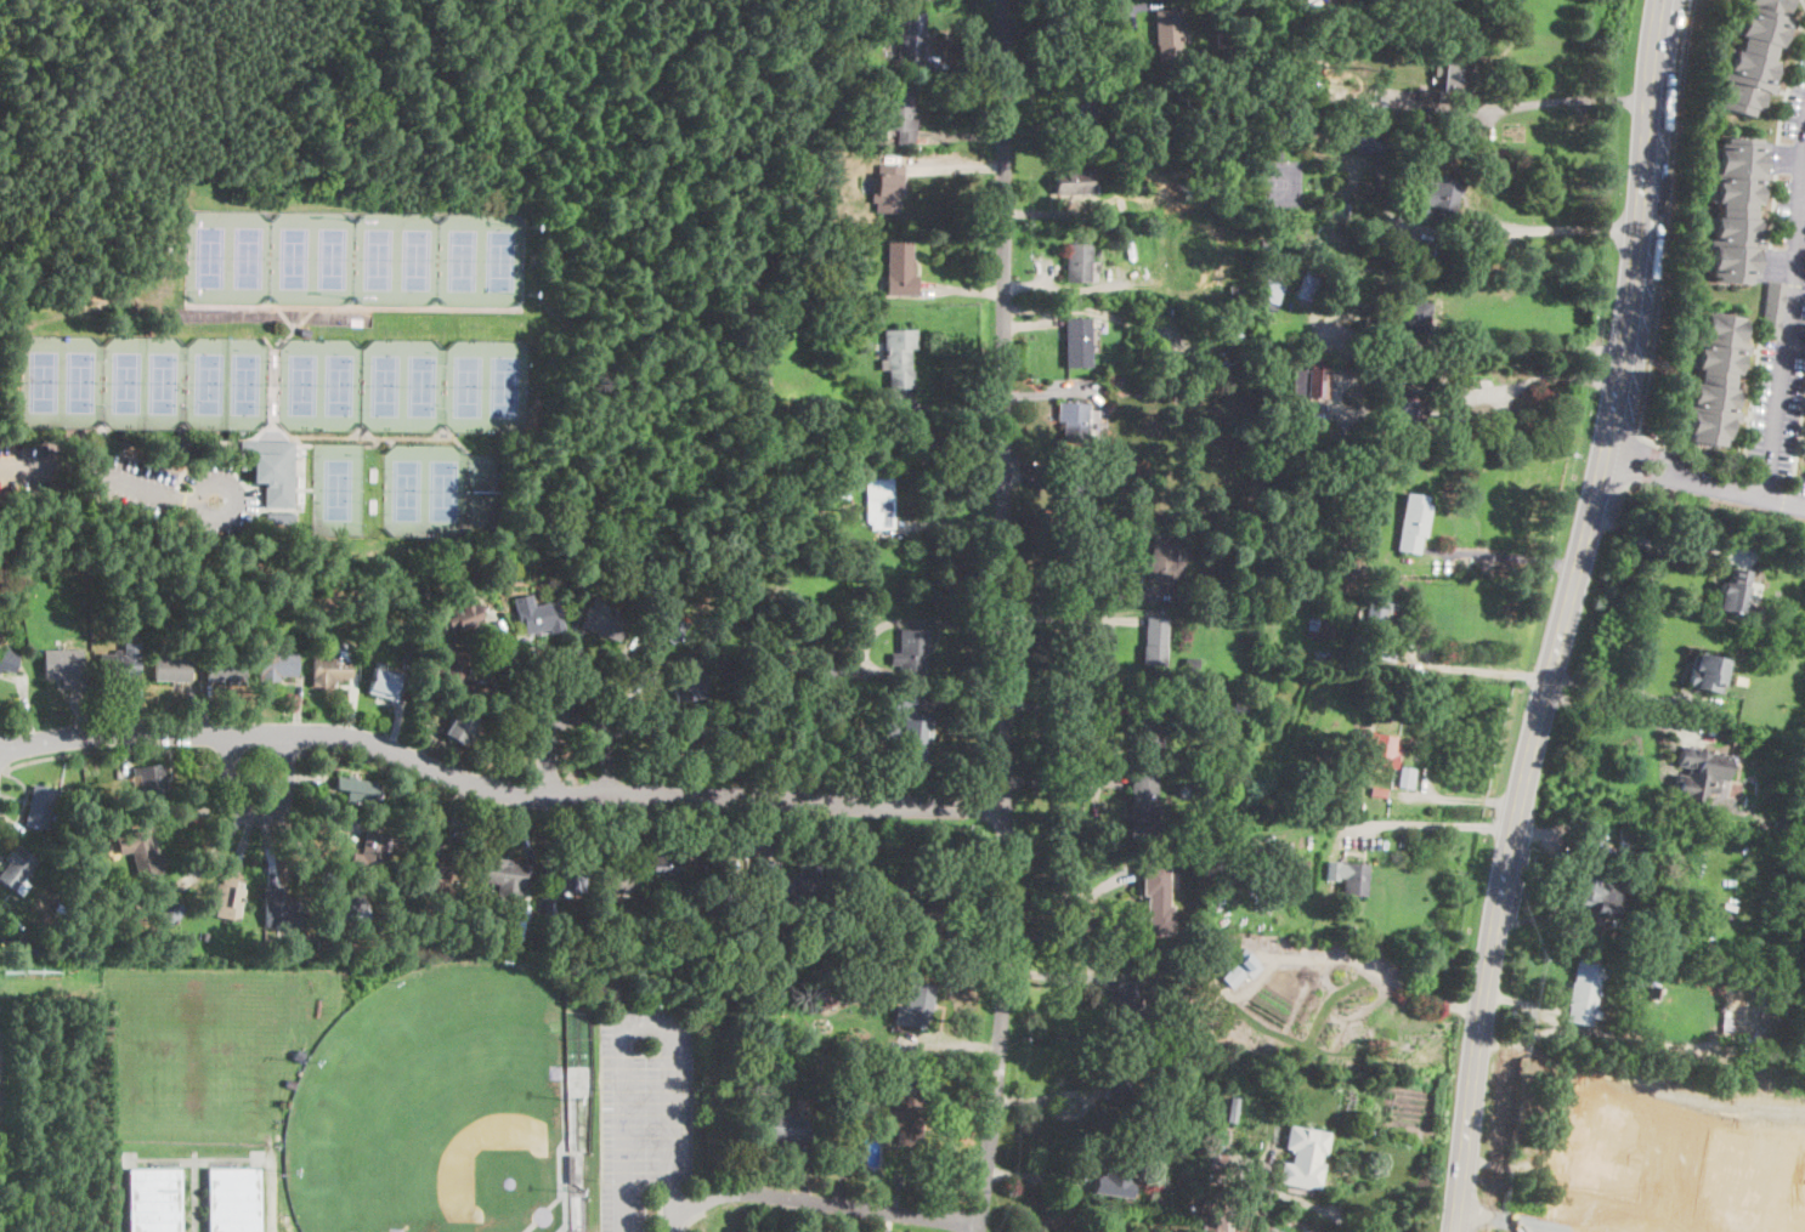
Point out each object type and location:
road: (1803, 2)
building: (838, 8)
building: (774, 12)
road: (1070, 19)
building: (1169, 35)
building: (1222, 39)
building: (911, 40)
building: (1460, 50)
building: (1754, 53)
building: (1454, 81)
road: (1566, 98)
building: (1081, 110)
building: (893, 118)
building: (1374, 118)
building: (1362, 140)
building: (1277, 153)
building: (1143, 158)
building: (1070, 182)
building: (888, 188)
building: (1439, 197)
building: (1735, 211)
building: (824, 215)
road: (1800, 223)
road: (1550, 229)
building: (1105, 231)
building: (1409, 245)
building: (1267, 249)
park: (355, 259)
building: (1077, 262)
building: (1224, 268)
building: (900, 269)
road: (1660, 279)
building: (1309, 285)
park: (374, 289)
building: (777, 291)
building: (1272, 291)
road: (1786, 307)
building: (1775, 311)
building: (826, 318)
building: (1402, 322)
building: (305, 330)
building: (1076, 341)
building: (830, 351)
road: (1517, 353)
building: (899, 357)
building: (1291, 360)
building: (1714, 379)
road: (1543, 380)
park: (145, 381)
building: (1311, 382)
park: (402, 384)
building: (1199, 385)
building: (808, 405)
building: (854, 413)
building: (1411, 413)
building: (1074, 422)
building: (1467, 436)
building: (907, 438)
road: (126, 452)
building: (271, 471)
road: (111, 477)
road: (1705, 477)
parking lot: (134, 481)
building: (843, 487)
park: (336, 488)
park: (441, 492)
building: (1070, 499)
building: (879, 503)
building: (1238, 523)
building: (1413, 523)
building: (785, 532)
building: (802, 535)
road: (1516, 555)
building: (1165, 562)
building: (24, 580)
building: (658, 586)
building: (1183, 594)
building: (1736, 594)
building: (379, 596)
road: (1082, 604)
building: (1377, 607)
building: (268, 613)
building: (537, 614)
building: (463, 615)
building: (0, 617)
road: (1005, 617)
road: (1567, 617)
road: (1070, 618)
building: (602, 621)
building: (663, 626)
building: (1322, 628)
building: (1155, 641)
building: (911, 652)
building: (728, 655)
building: (7, 660)
building: (278, 664)
building: (1192, 664)
building: (118, 665)
building: (64, 666)
building: (174, 666)
road: (1472, 669)
building: (226, 670)
building: (330, 670)
building: (458, 670)
building: (824, 671)
building: (1708, 672)
road: (525, 674)
building: (381, 682)
road: (1618, 682)
building: (683, 683)
building: (419, 694)
building: (1210, 699)
road: (510, 703)
road: (1064, 705)
building: (1199, 711)
building: (1211, 711)
road: (1619, 711)
road: (575, 715)
building: (459, 725)
building: (1149, 726)
building: (1184, 728)
building: (910, 731)
building: (684, 739)
building: (817, 742)
building: (1377, 748)
road: (107, 750)
road: (228, 750)
road: (287, 750)
road: (259, 751)
building: (735, 754)
building: (1701, 772)
road: (1063, 777)
building: (1405, 777)
building: (152, 783)
building: (1323, 784)
road: (497, 789)
building: (356, 790)
building: (1187, 790)
building: (1210, 790)
building: (1379, 793)
building: (1346, 802)
building: (40, 806)
building: (1144, 806)
road: (539, 811)
building: (336, 812)
road: (258, 814)
building: (1779, 823)
road: (1437, 824)
building: (1634, 833)
building: (1622, 839)
building: (1651, 851)
building: (369, 852)
building: (143, 853)
building: (1303, 864)
building: (663, 865)
building: (434, 867)
building: (18, 869)
building: (1349, 876)
building: (503, 878)
building: (617, 878)
building: (720, 879)
building: (570, 881)
building: (788, 884)
building: (1592, 895)
building: (1158, 897)
building: (230, 899)
building: (912, 901)
building: (344, 905)
building: (165, 908)
building: (282, 908)
building: (549, 909)
road: (1071, 910)
building: (860, 920)
building: (765, 930)
building: (205, 935)
building: (667, 935)
building: (504, 936)
building: (858, 936)
building: (813, 941)
building: (22, 943)
building: (457, 943)
building: (1674, 946)
building: (679, 948)
building: (689, 948)
building: (1166, 967)
building: (1241, 969)
road: (1377, 972)
building: (769, 987)
building: (1745, 988)
building: (1285, 993)
building: (1584, 993)
building: (1654, 994)
building: (824, 997)
building: (1670, 1003)
building: (1128, 1004)
building: (916, 1006)
building: (1660, 1014)
road: (623, 1026)
building: (1182, 1050)
building: (885, 1077)
building: (290, 1083)
building: (1120, 1083)
building: (1244, 1102)
park: (437, 1108)
parking lot: (643, 1108)
building: (1230, 1109)
road: (1744, 1113)
building: (845, 1115)
building: (904, 1115)
building: (788, 1126)
building: (1602, 1137)
road: (1677, 1157)
building: (1217, 1164)
building: (1301, 1169)
building: (570, 1170)
building: (1115, 1176)
building: (1735, 1185)
road: (1281, 1191)
building: (154, 1200)
building: (233, 1200)
road: (817, 1200)
road: (670, 1203)
building: (1801, 1207)
road: (658, 1209)
building: (1188, 1210)
road: (691, 1220)
building: (1263, 1220)
building: (1213, 1222)
road: (1625, 1224)
building: (1305, 1230)
building: (1289, 1231)

